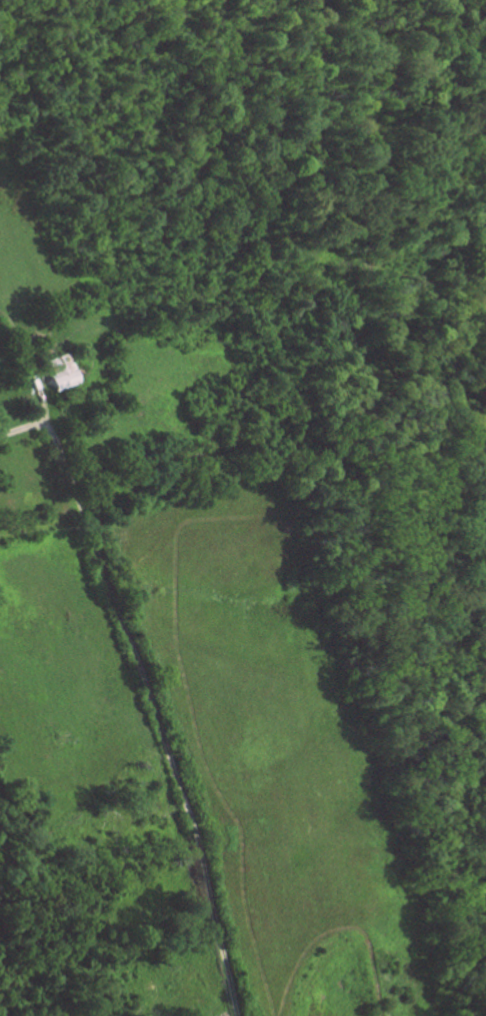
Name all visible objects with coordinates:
building: (61, 370)
road: (148, 694)

